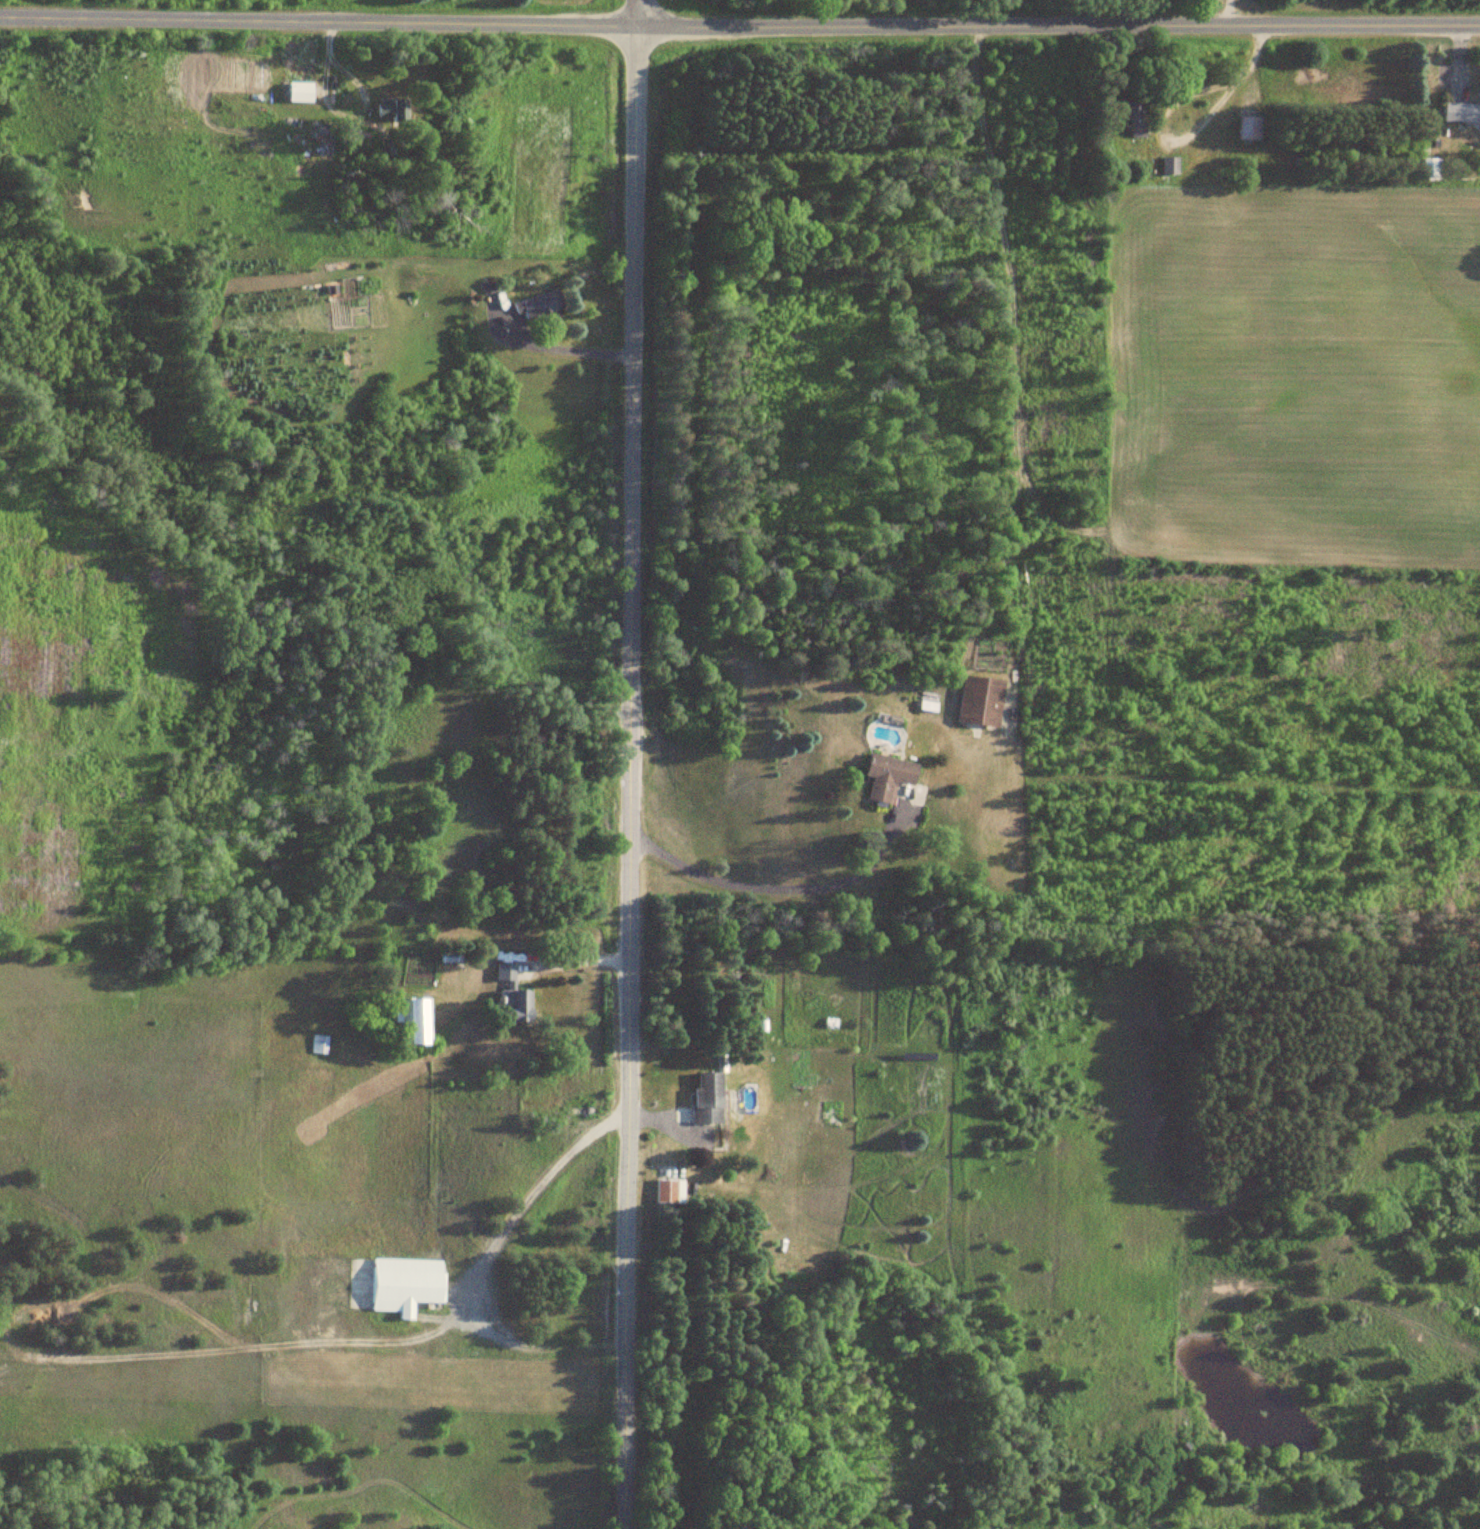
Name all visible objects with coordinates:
road: (638, 13)
road: (739, 26)
building: (394, 108)
building: (1462, 113)
building: (1137, 119)
building: (1252, 128)
building: (1171, 165)
building: (543, 304)
building: (982, 702)
building: (889, 776)
road: (632, 777)
building: (515, 994)
building: (415, 1022)
building: (321, 1044)
building: (709, 1098)
building: (672, 1192)
building: (409, 1286)

